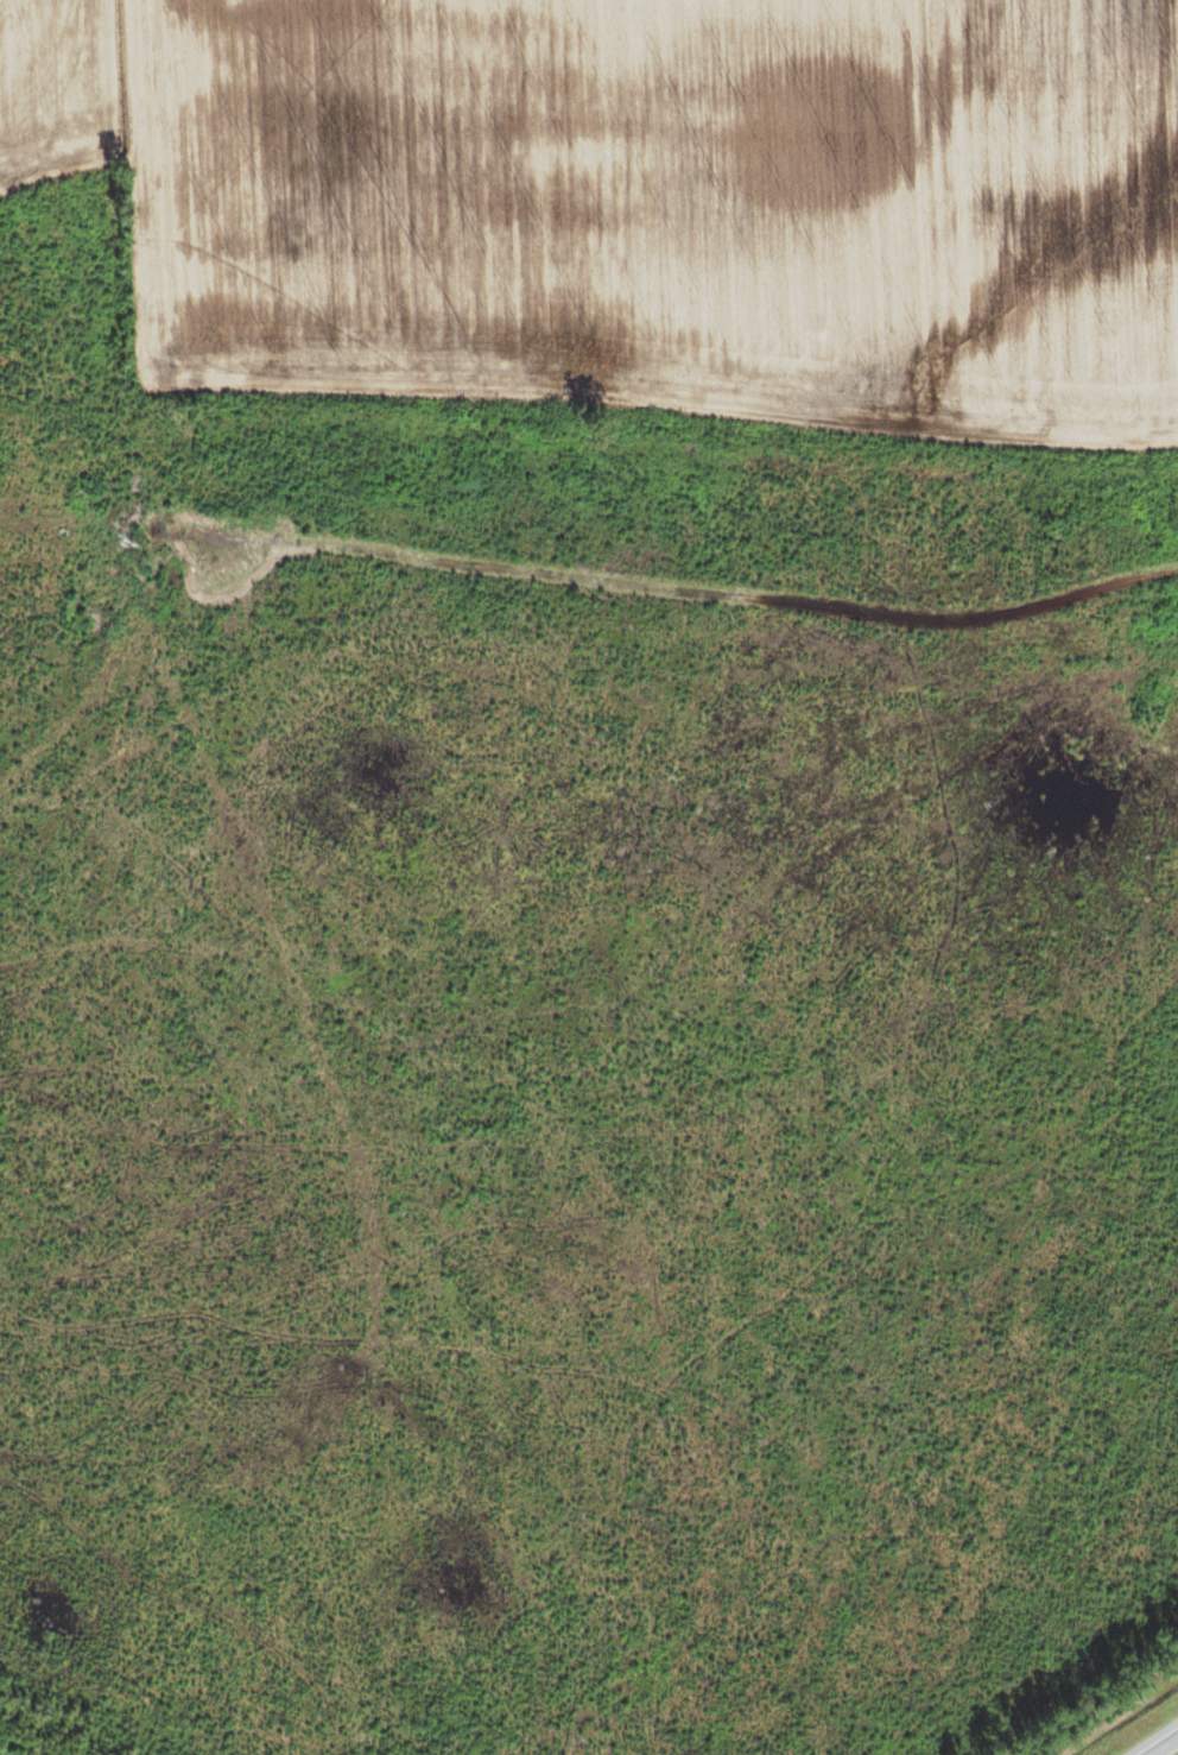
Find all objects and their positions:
road: (1174, 1753)

